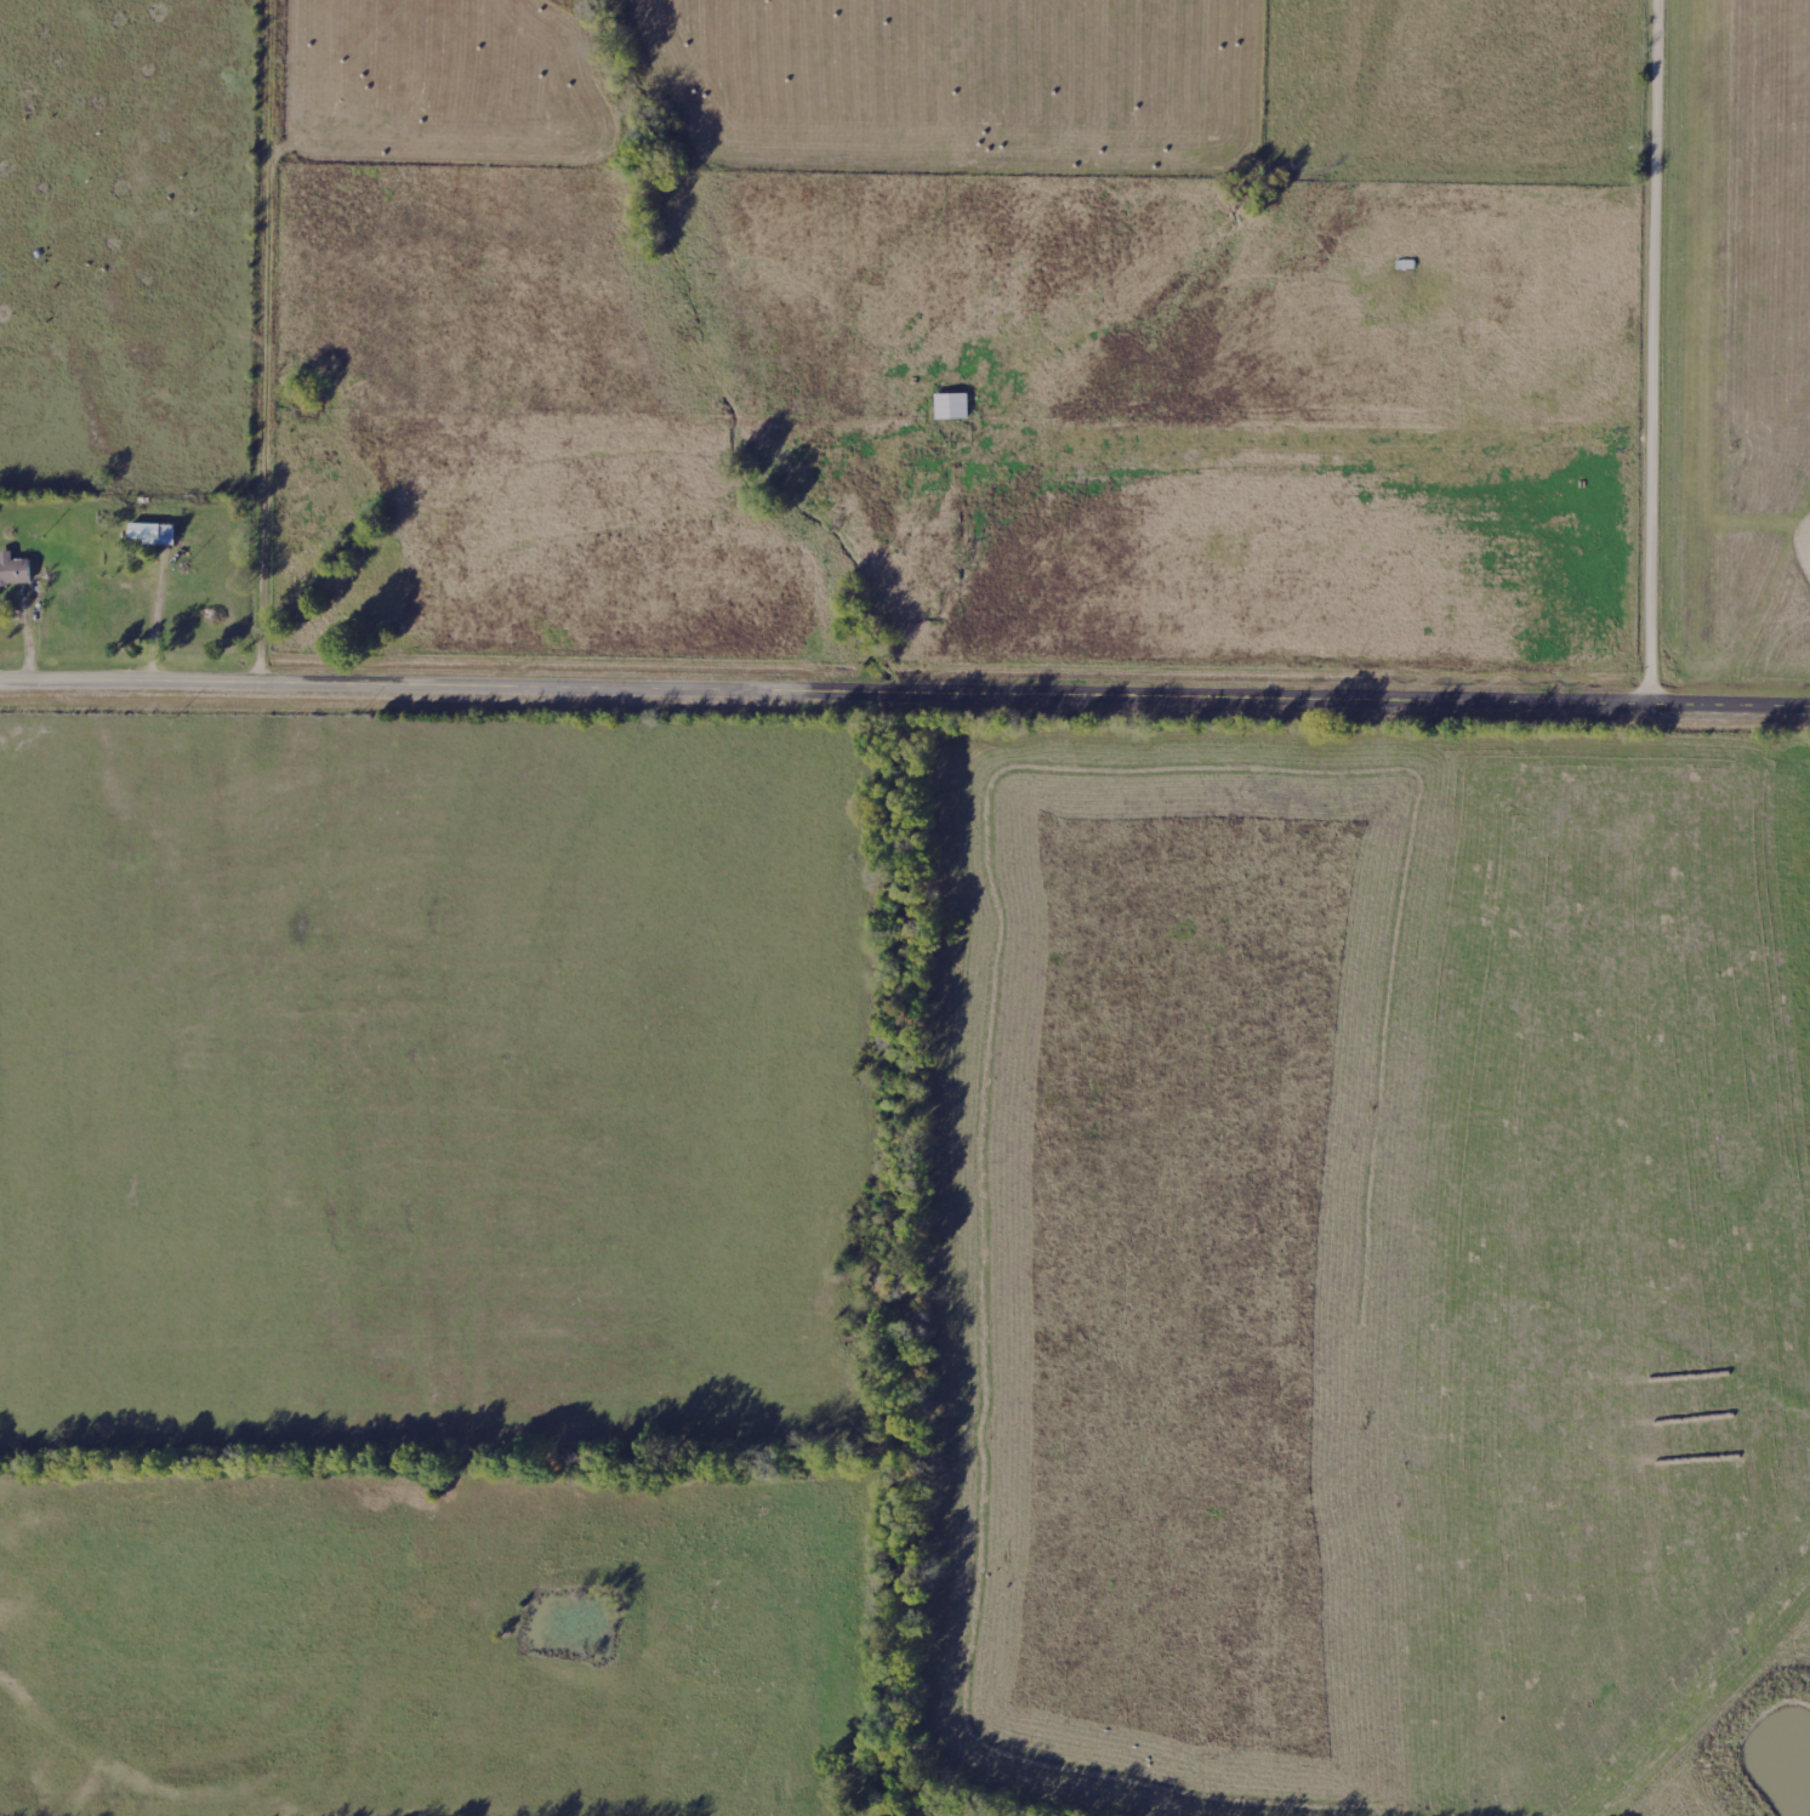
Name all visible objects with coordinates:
road: (275, 338)
road: (1663, 351)
building: (952, 406)
building: (154, 534)
building: (15, 571)
road: (905, 689)

